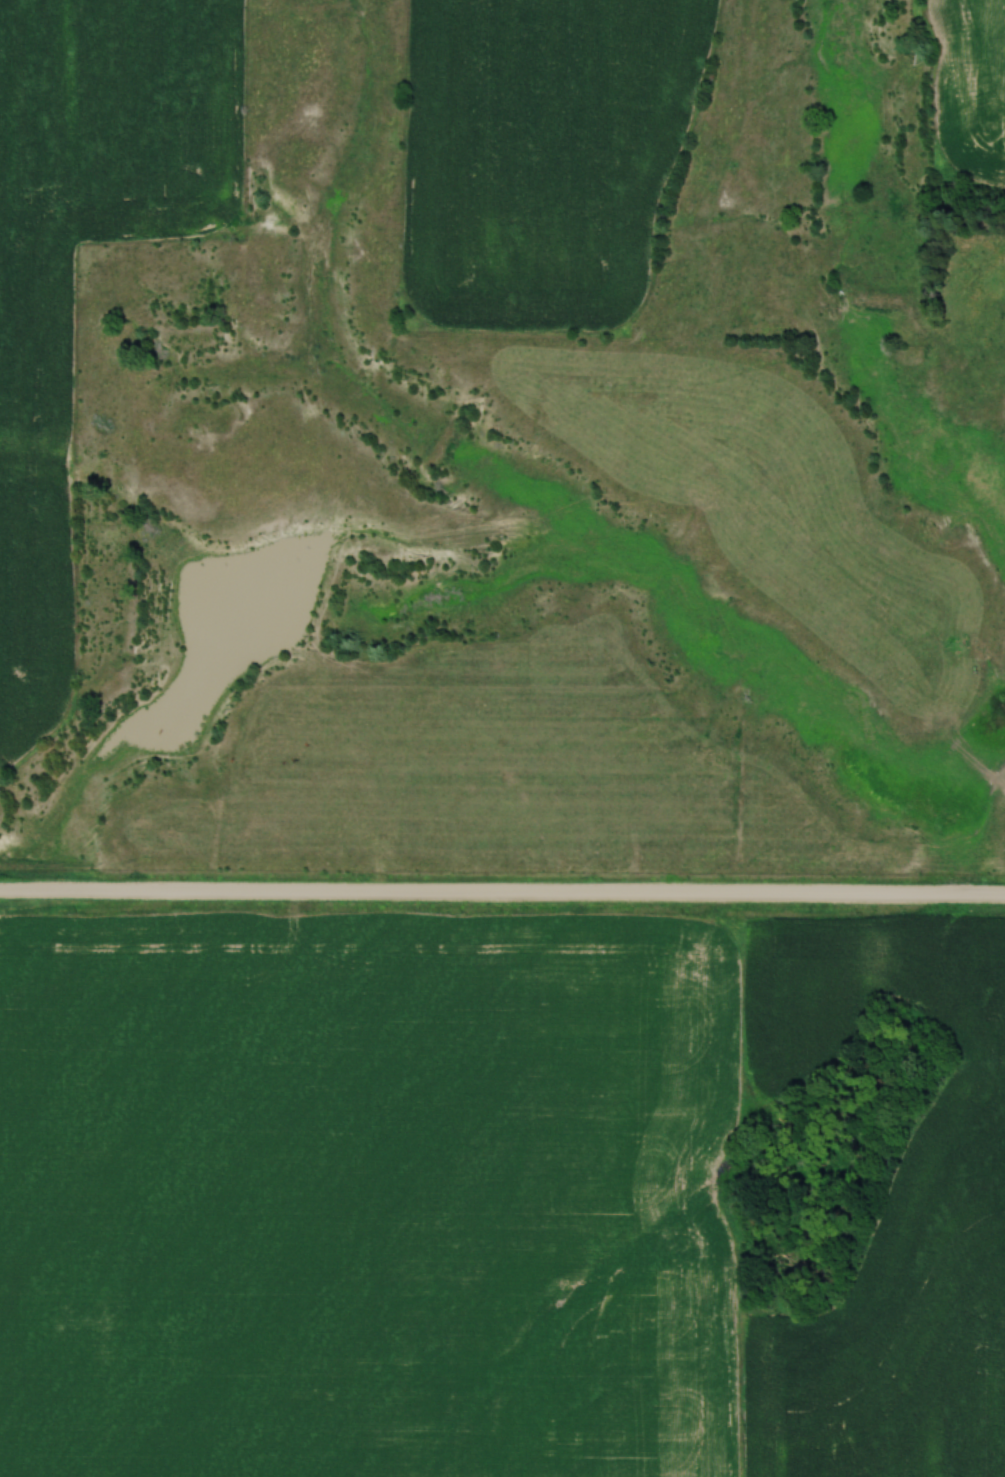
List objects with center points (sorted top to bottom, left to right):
road: (502, 895)

